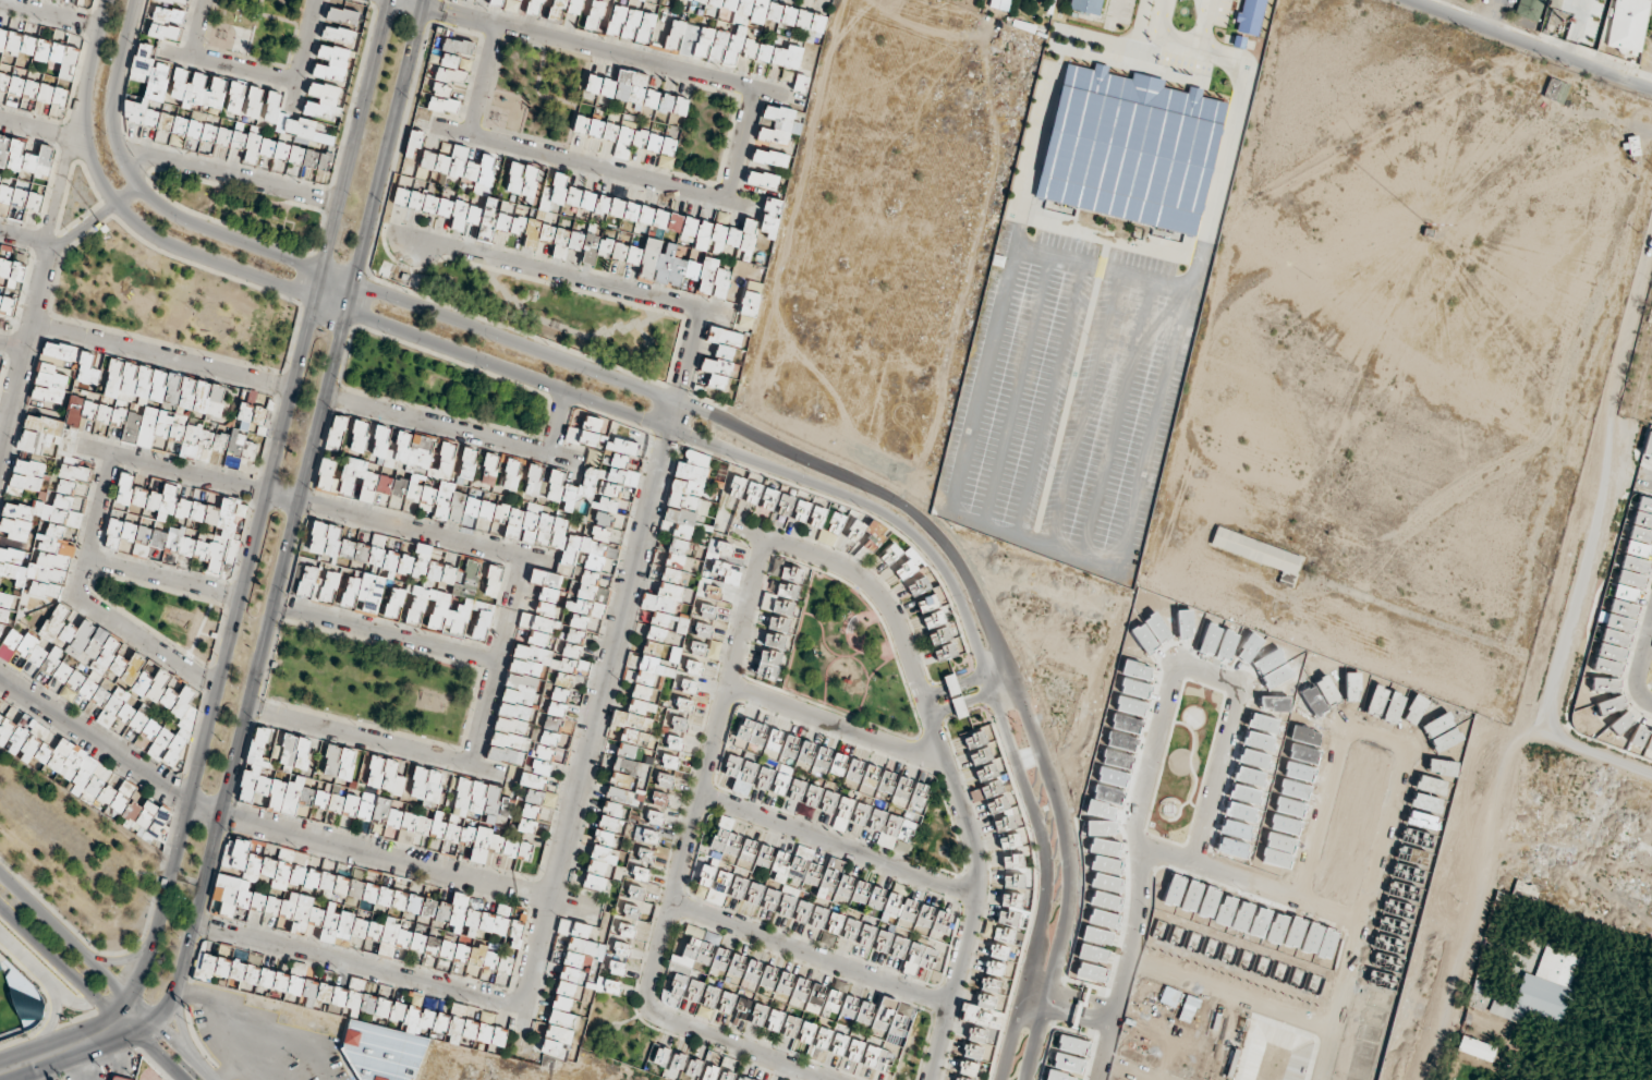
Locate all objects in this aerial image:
park: (254, 27)
park: (543, 86)
park: (705, 134)
park: (245, 208)
park: (170, 300)
park: (438, 381)
park: (169, 611)
crop: (1612, 614)
park: (371, 682)
park: (75, 853)

